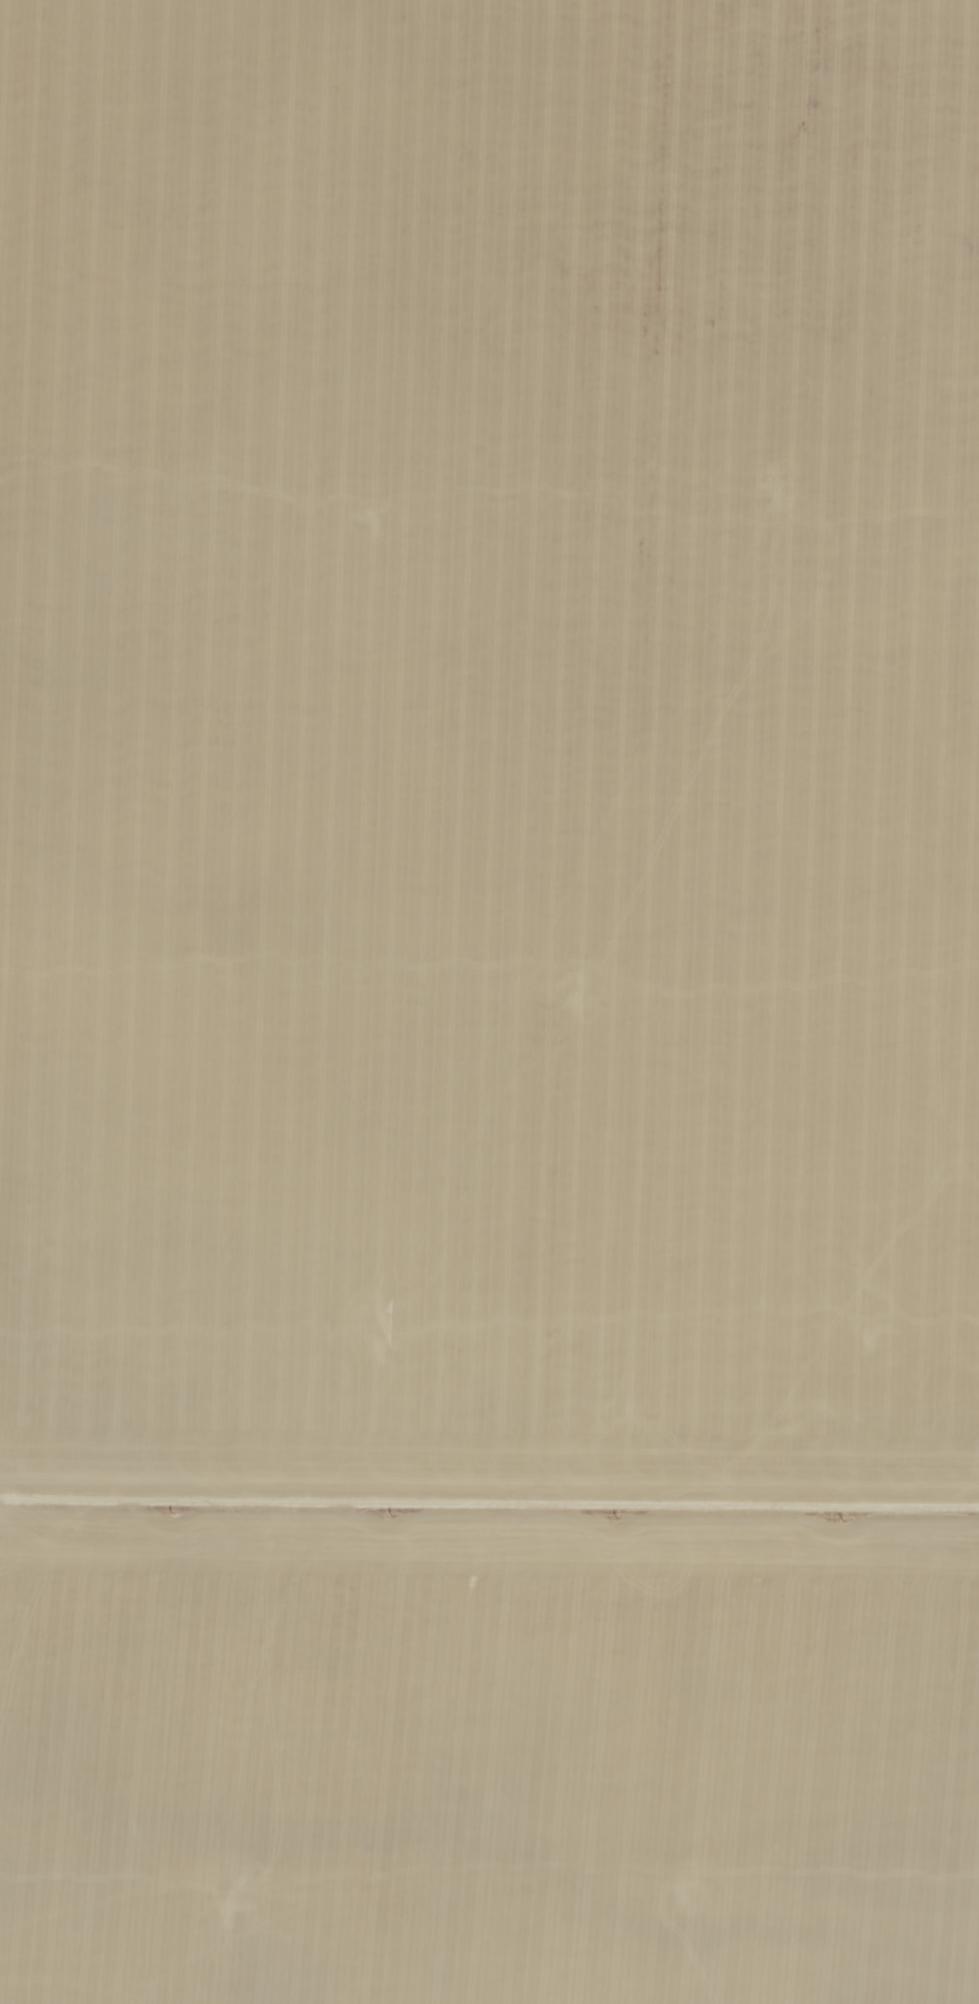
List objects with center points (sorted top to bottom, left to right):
road: (489, 1494)

